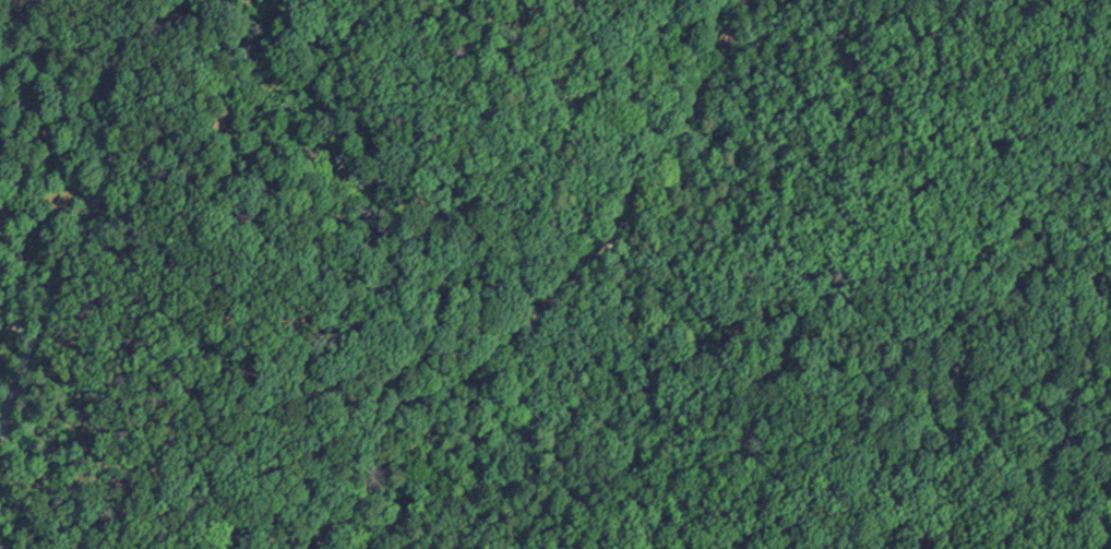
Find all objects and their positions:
road: (85, 226)
road: (561, 296)

